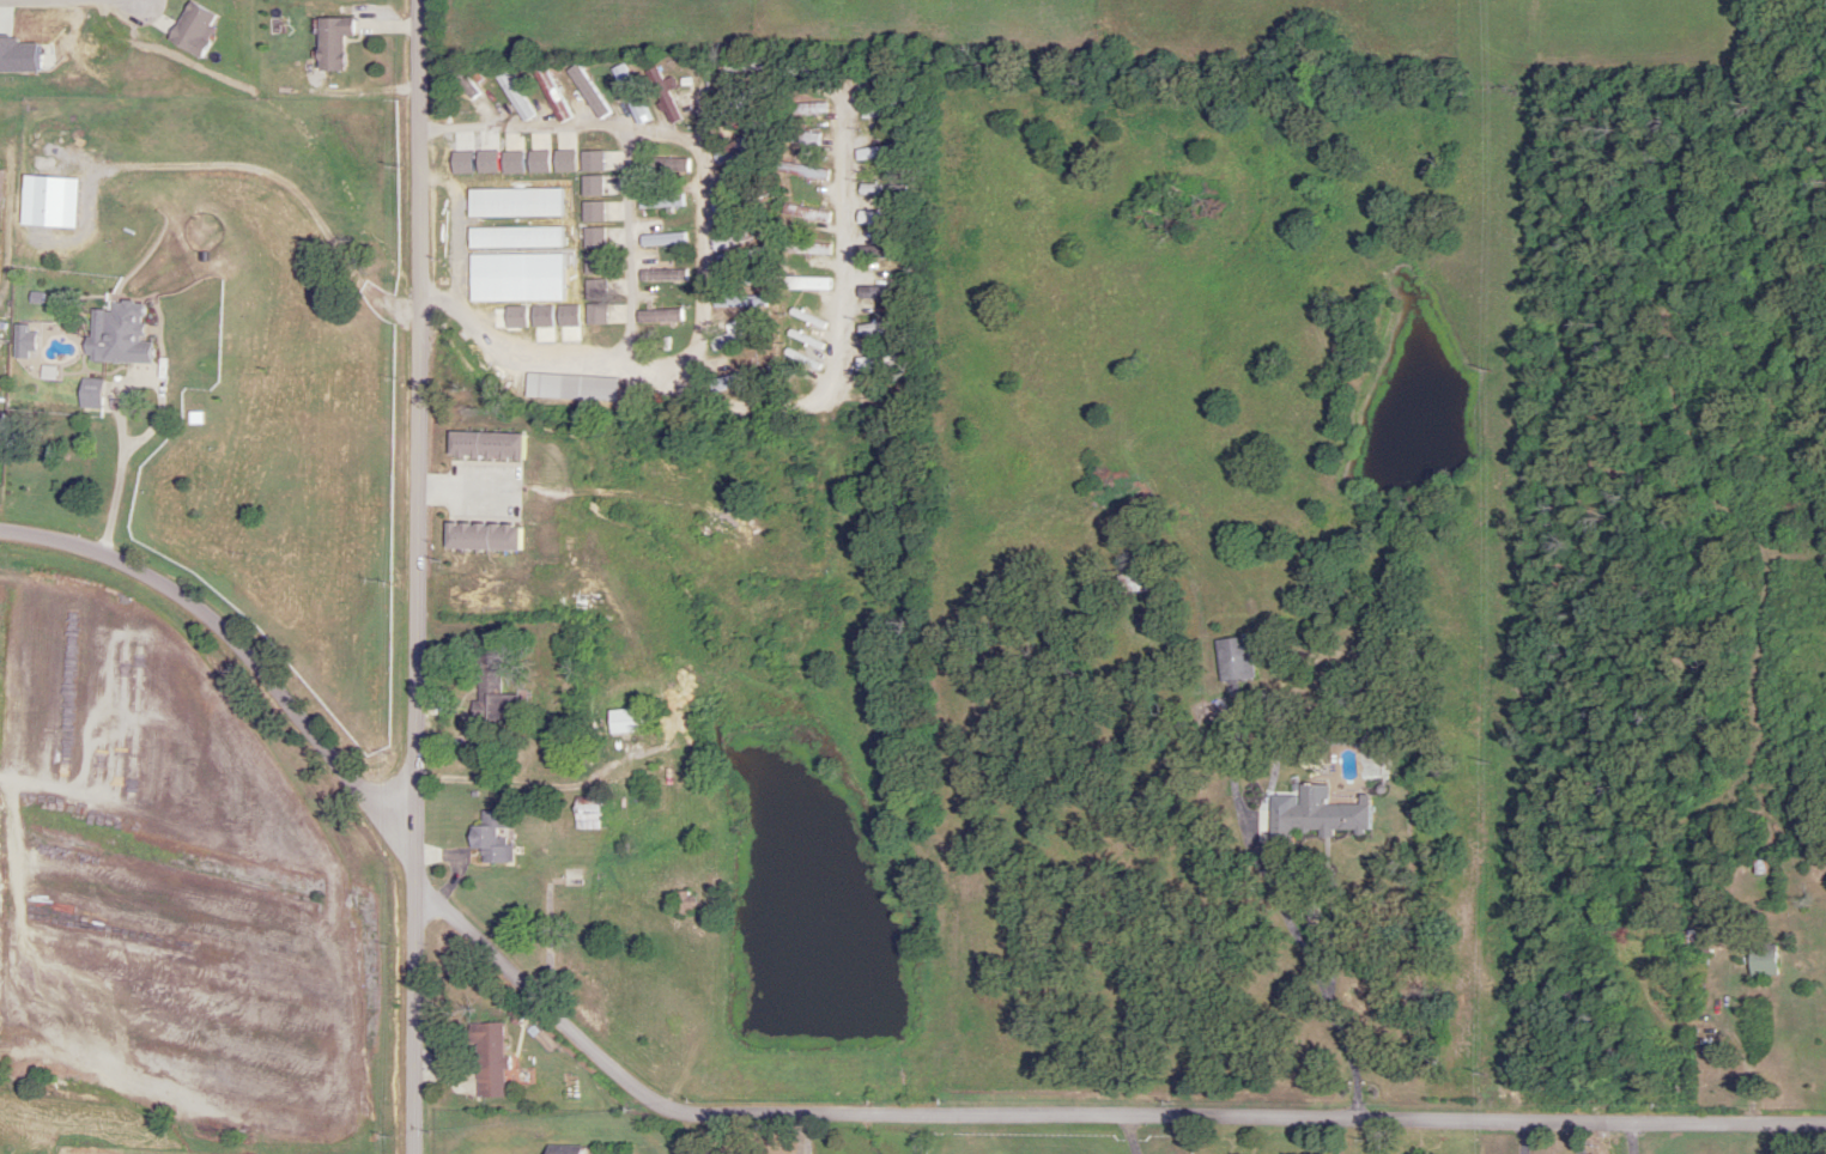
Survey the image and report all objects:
building: (189, 28)
building: (329, 41)
building: (887, 109)
road: (680, 142)
building: (739, 144)
building: (874, 189)
building: (739, 199)
building: (659, 201)
building: (739, 236)
building: (803, 248)
building: (884, 251)
building: (662, 275)
building: (878, 291)
building: (739, 302)
building: (121, 334)
road: (510, 352)
building: (800, 360)
road: (839, 360)
building: (881, 364)
building: (738, 379)
building: (569, 388)
building: (57, 393)
road: (617, 402)
road: (617, 433)
road: (122, 473)
road: (1493, 573)
road: (419, 577)
building: (1129, 582)
road: (235, 640)
building: (1231, 658)
building: (484, 672)
building: (623, 721)
road: (529, 785)
building: (1315, 815)
building: (490, 838)
building: (1760, 960)
road: (1318, 990)
building: (486, 1058)
road: (1081, 1116)
road: (685, 1135)
road: (960, 1135)
road: (1136, 1135)
road: (1340, 1137)
road: (1588, 1140)
road: (1636, 1140)

